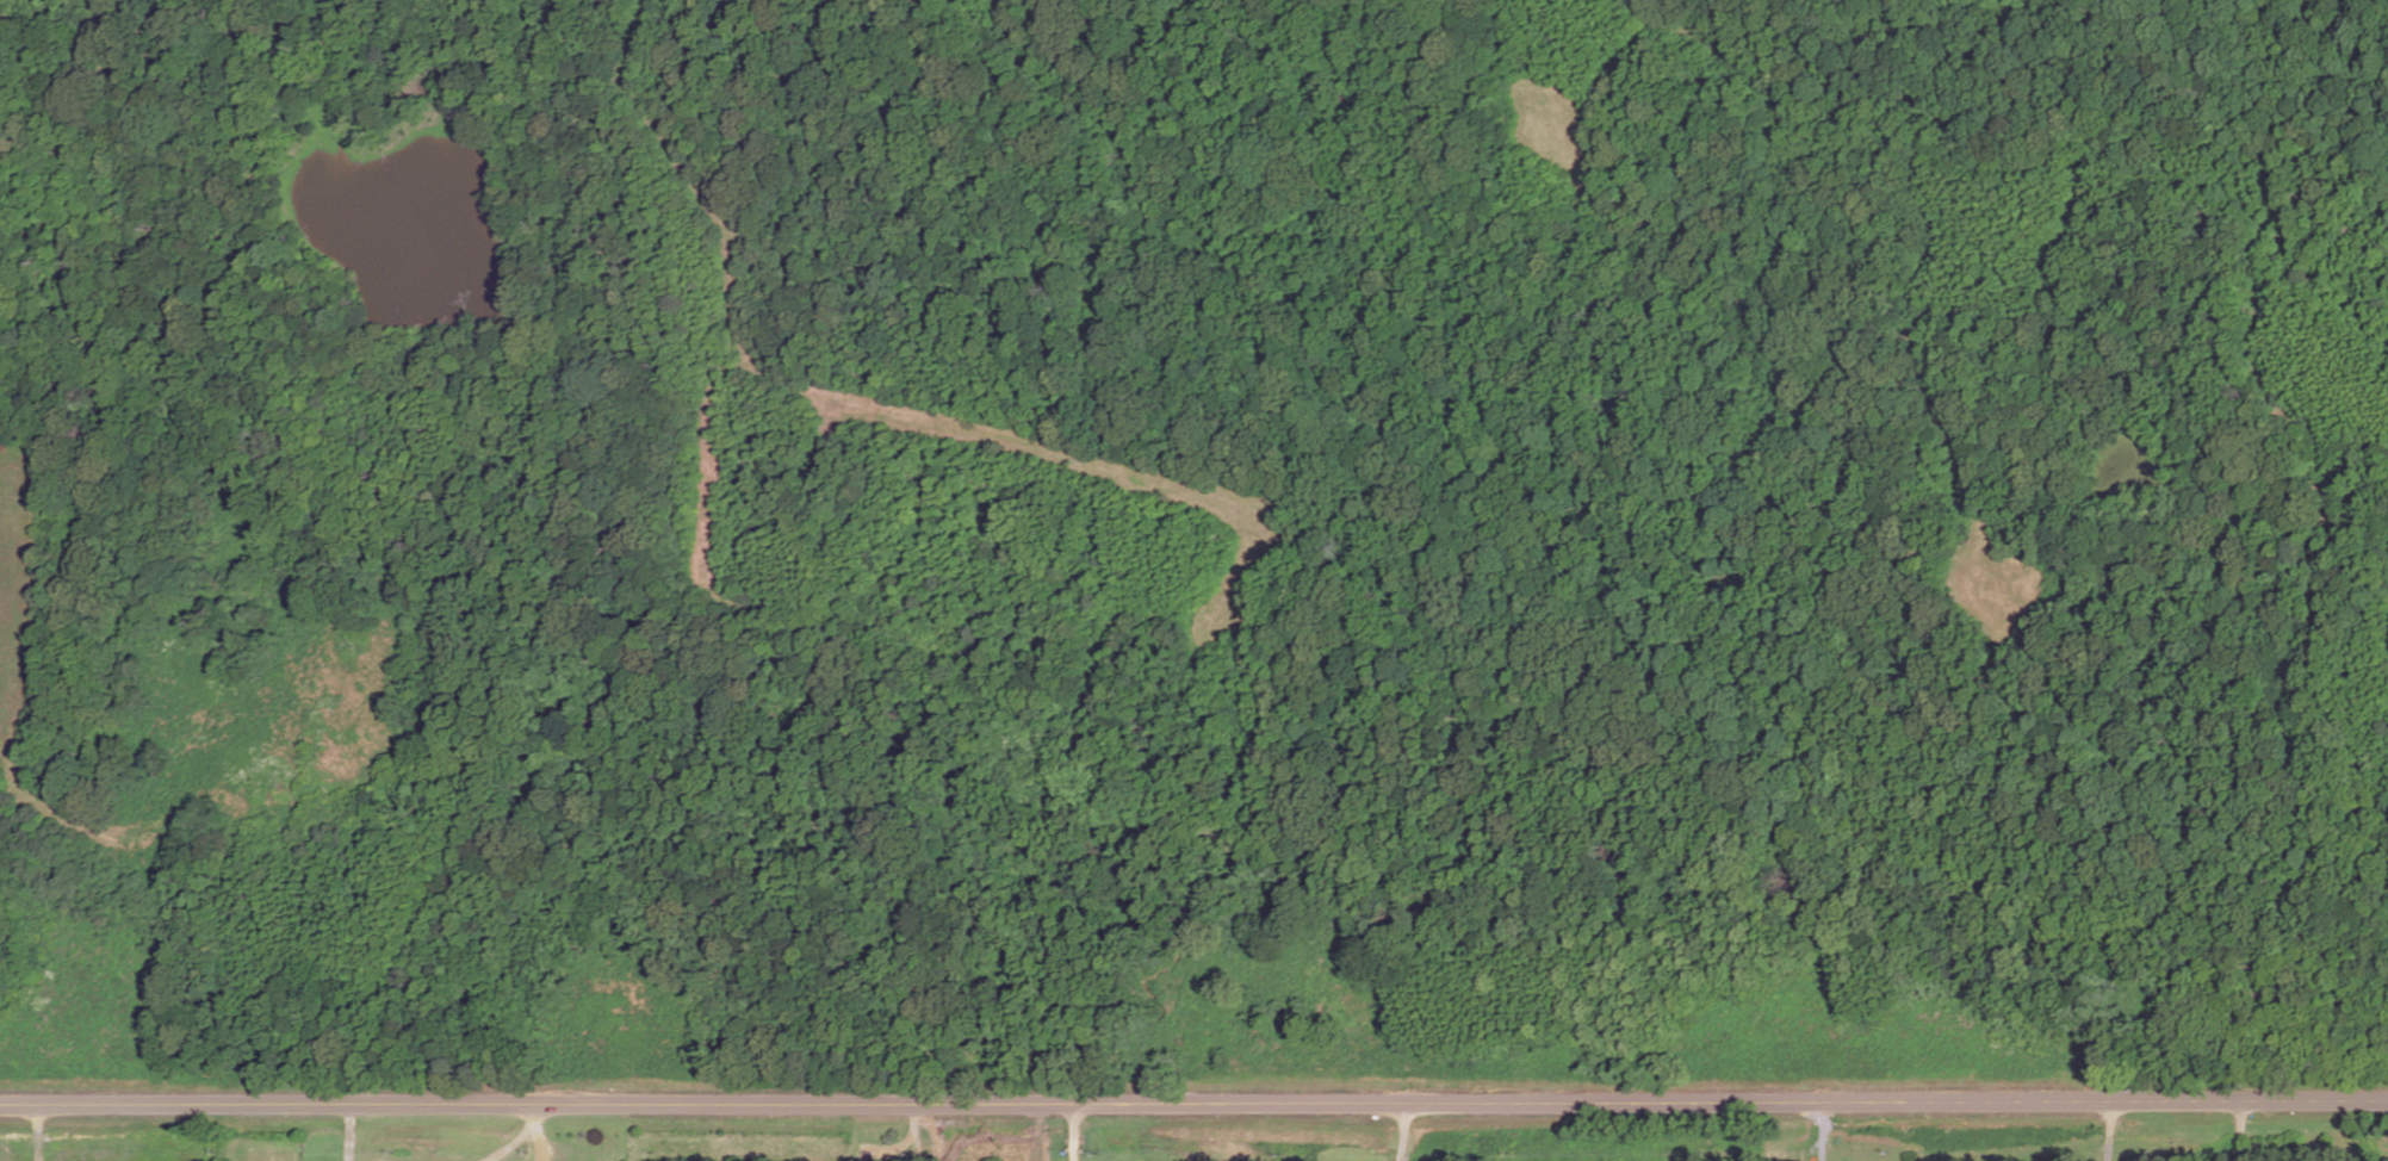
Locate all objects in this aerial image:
road: (1193, 1103)
road: (2237, 1130)
road: (38, 1131)
road: (1074, 1131)
road: (1402, 1131)
road: (1819, 1131)
road: (2108, 1131)
road: (349, 1132)
road: (535, 1132)
road: (1037, 1132)
road: (513, 1142)
road: (908, 1144)

